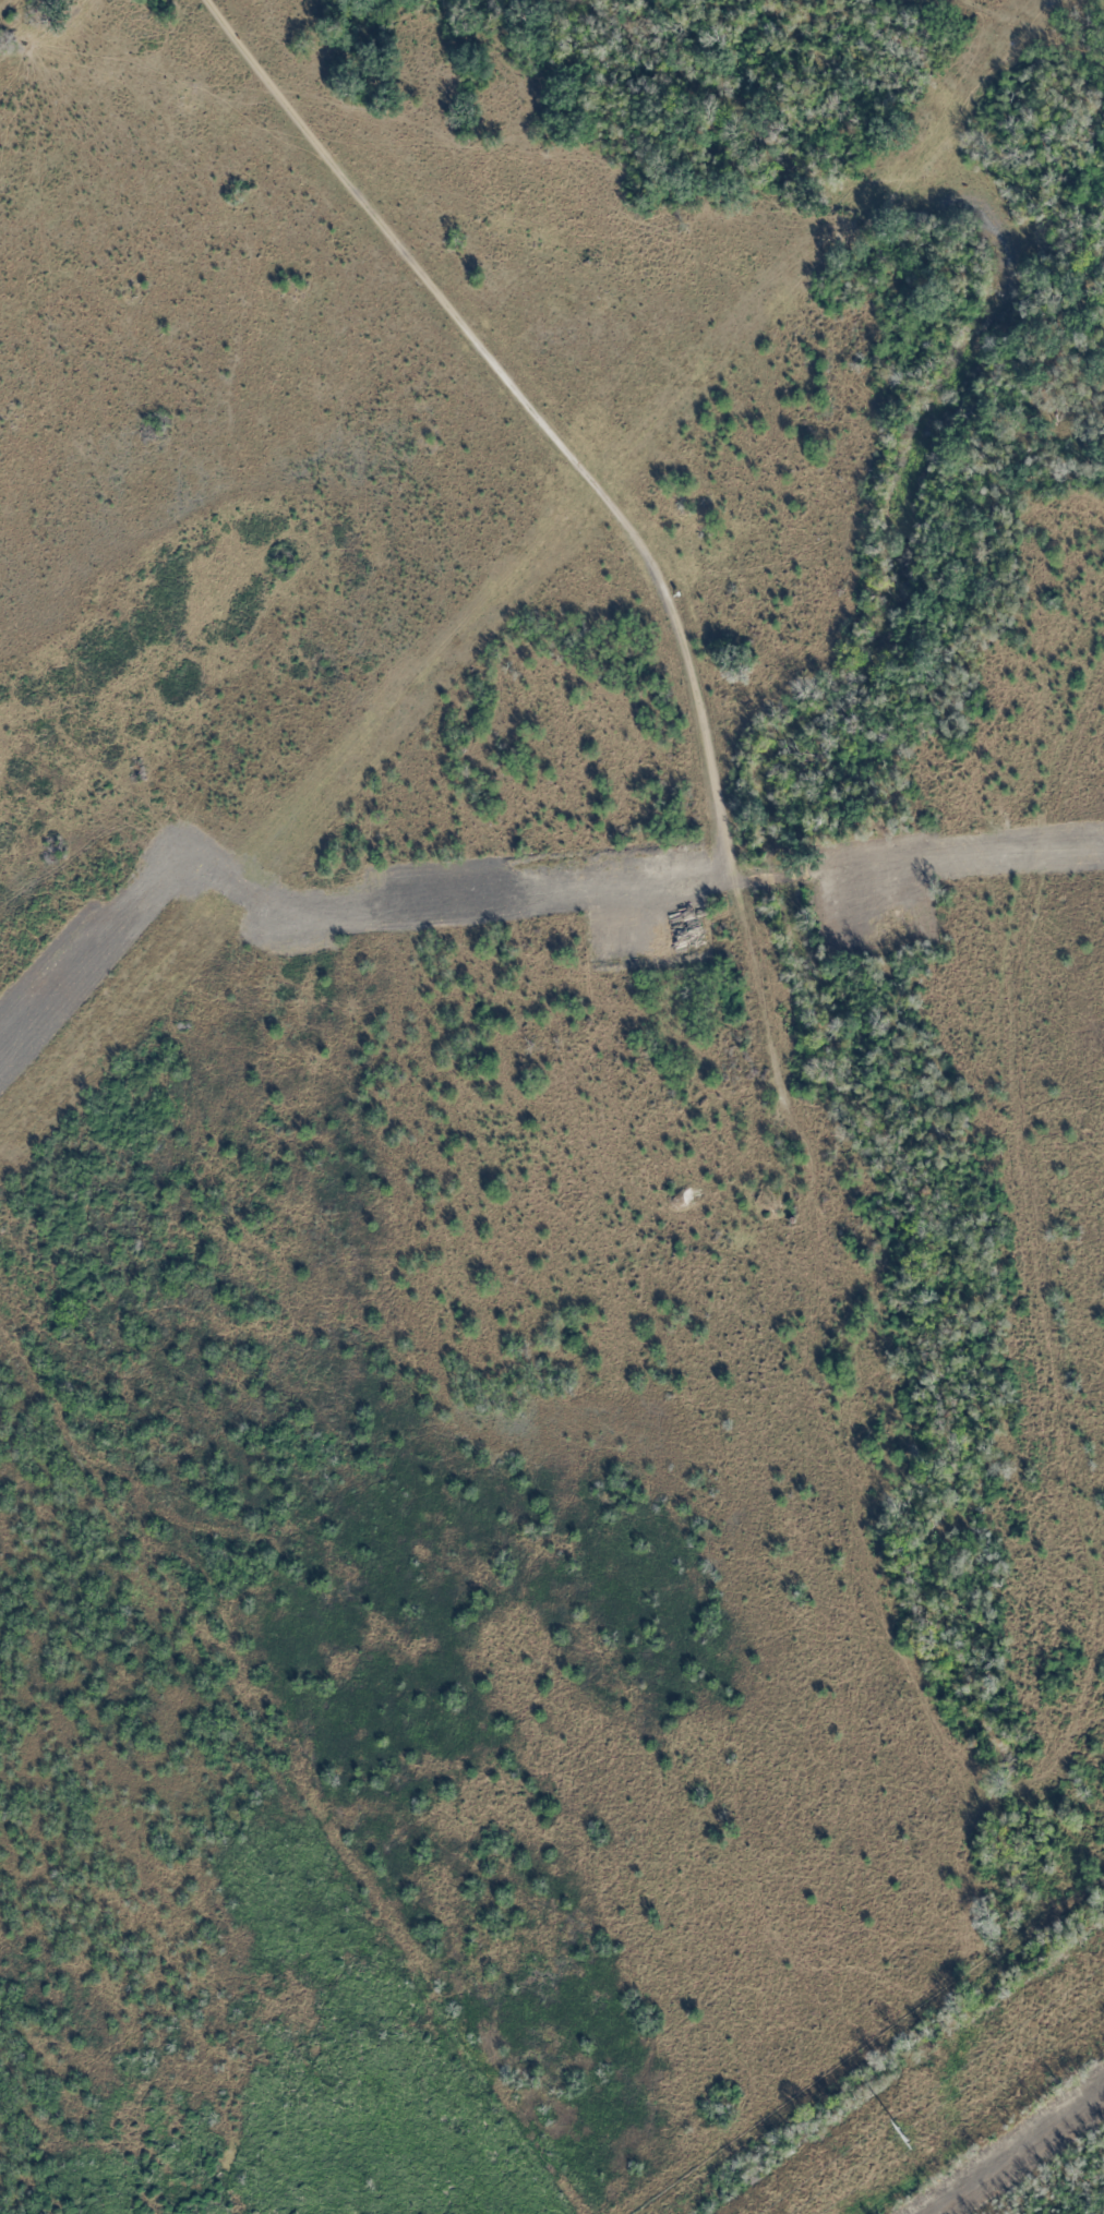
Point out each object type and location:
road: (1001, 67)
power tower: (902, 2134)

